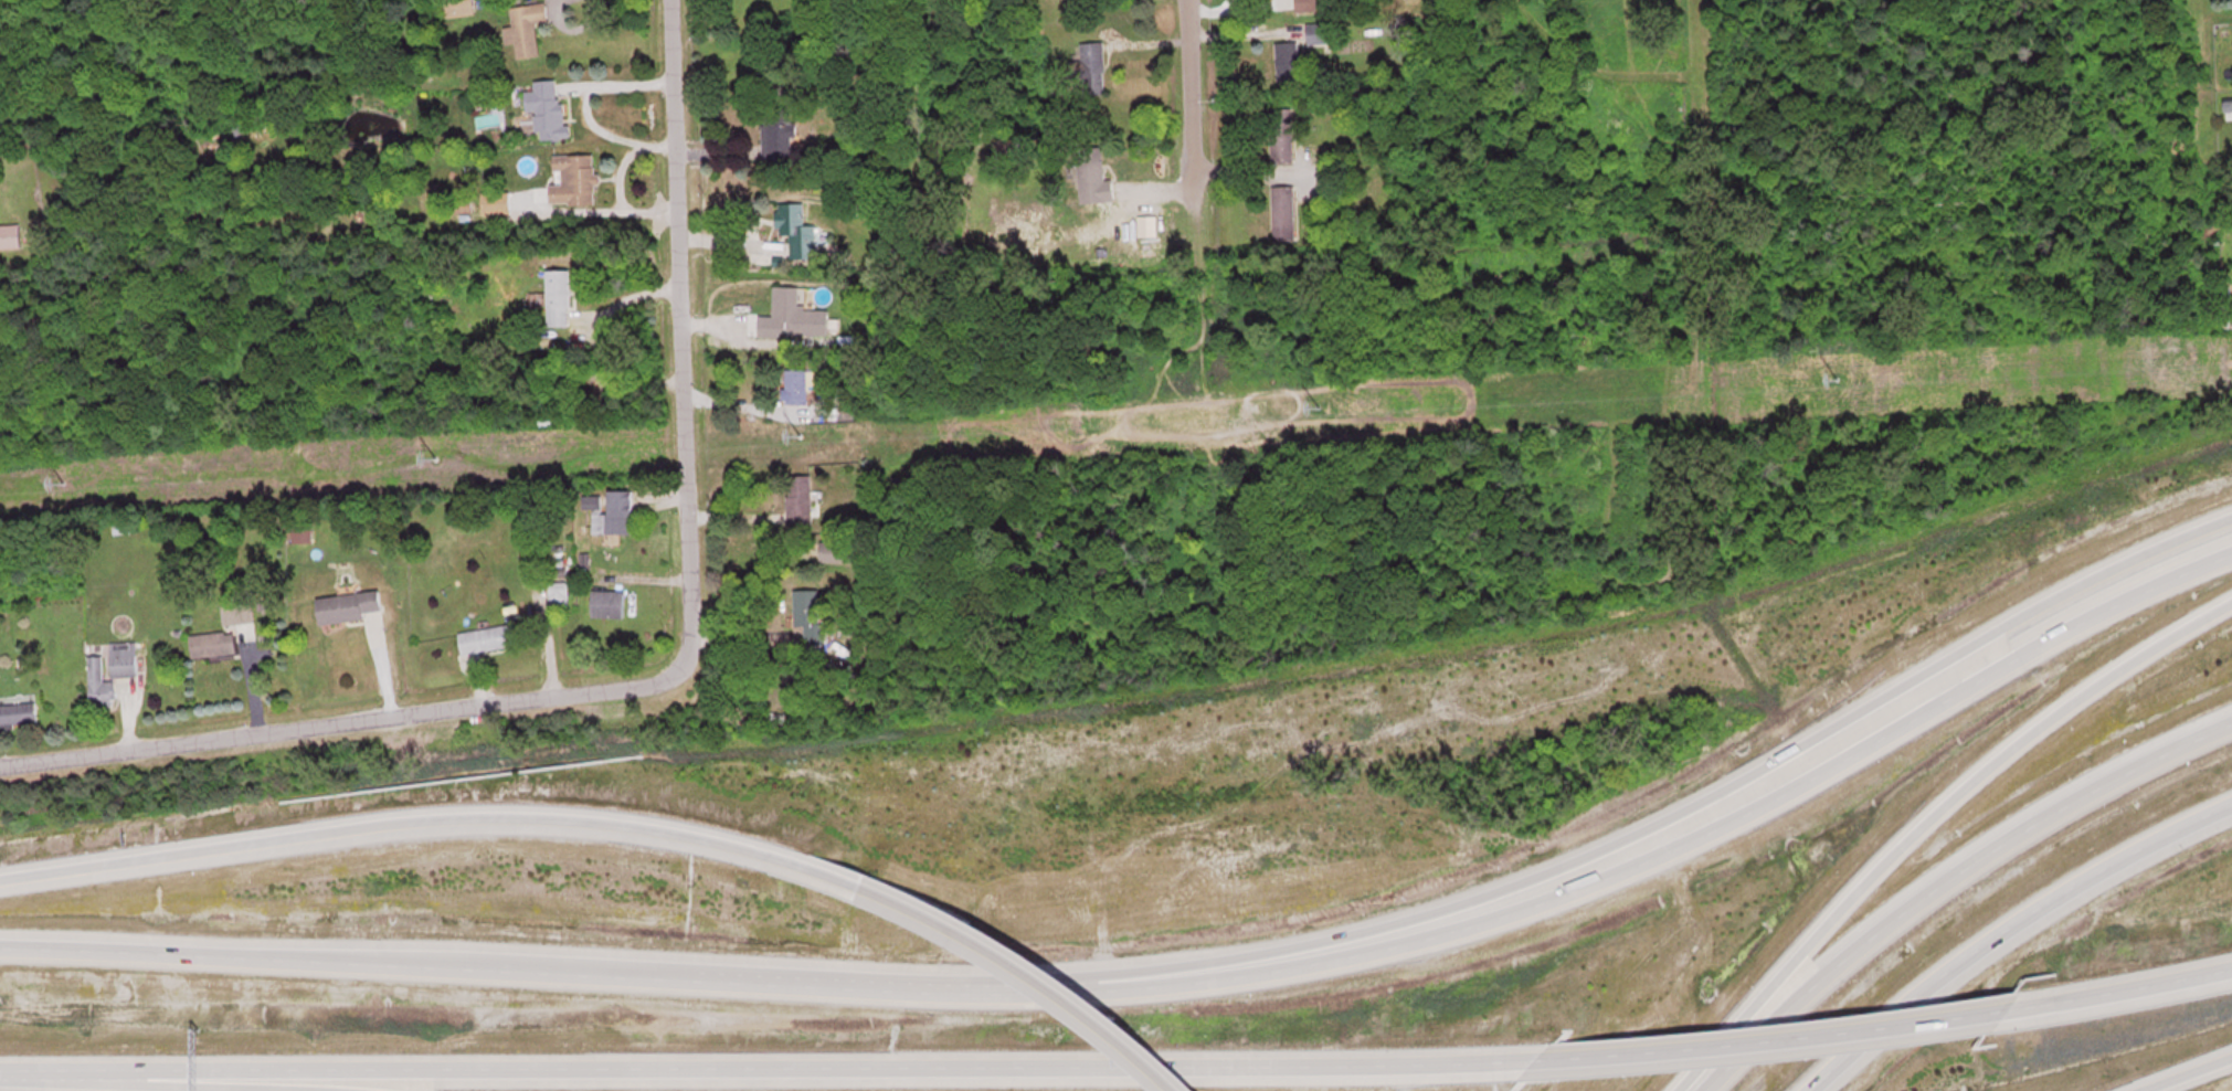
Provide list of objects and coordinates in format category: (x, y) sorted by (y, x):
building: (1312, 4)
building: (458, 7)
building: (526, 28)
building: (1319, 32)
building: (1288, 60)
building: (1093, 67)
road: (1182, 106)
building: (547, 108)
road: (1694, 110)
building: (778, 130)
building: (1282, 134)
building: (1093, 177)
building: (573, 179)
building: (1283, 212)
building: (796, 230)
building: (9, 236)
building: (559, 298)
building: (793, 316)
road: (676, 333)
power tower: (1839, 380)
power tower: (1319, 407)
power tower: (801, 435)
power tower: (435, 458)
power tower: (63, 481)
building: (800, 499)
building: (615, 515)
building: (120, 528)
building: (837, 551)
building: (558, 596)
building: (607, 603)
building: (348, 606)
building: (811, 614)
building: (225, 632)
building: (488, 638)
building: (124, 658)
building: (829, 676)
building: (101, 686)
building: (18, 714)
road: (339, 724)
road: (1755, 777)
road: (1968, 786)
road: (1758, 804)
road: (433, 818)
road: (1939, 882)
road: (2001, 926)
road: (1036, 966)
road: (385, 971)
road: (1015, 984)
road: (2117, 993)
road: (1771, 1040)
road: (775, 1071)
road: (2185, 1072)
road: (6, 1081)
road: (62, 1087)

